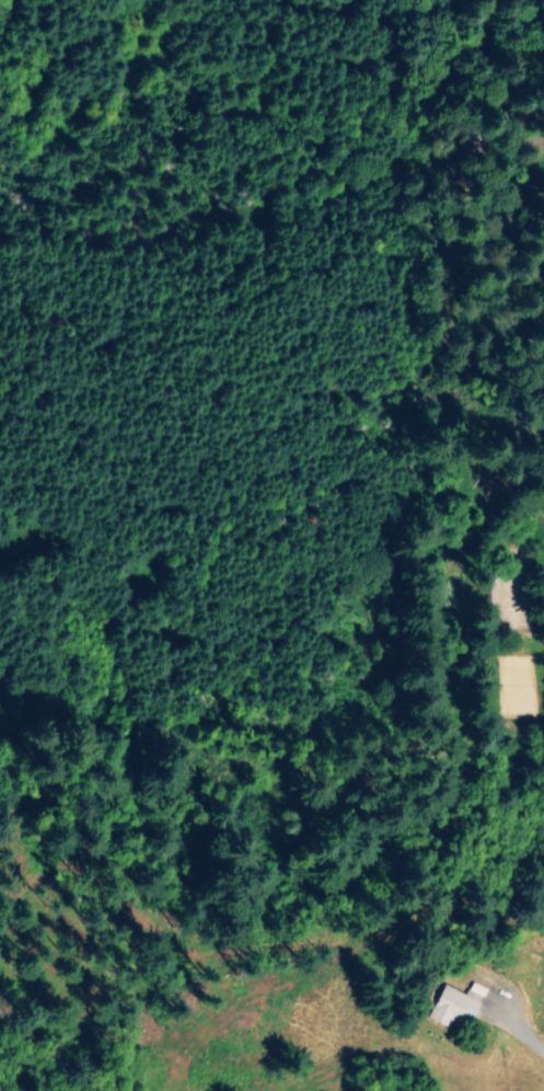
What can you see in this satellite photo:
road: (523, 1030)

